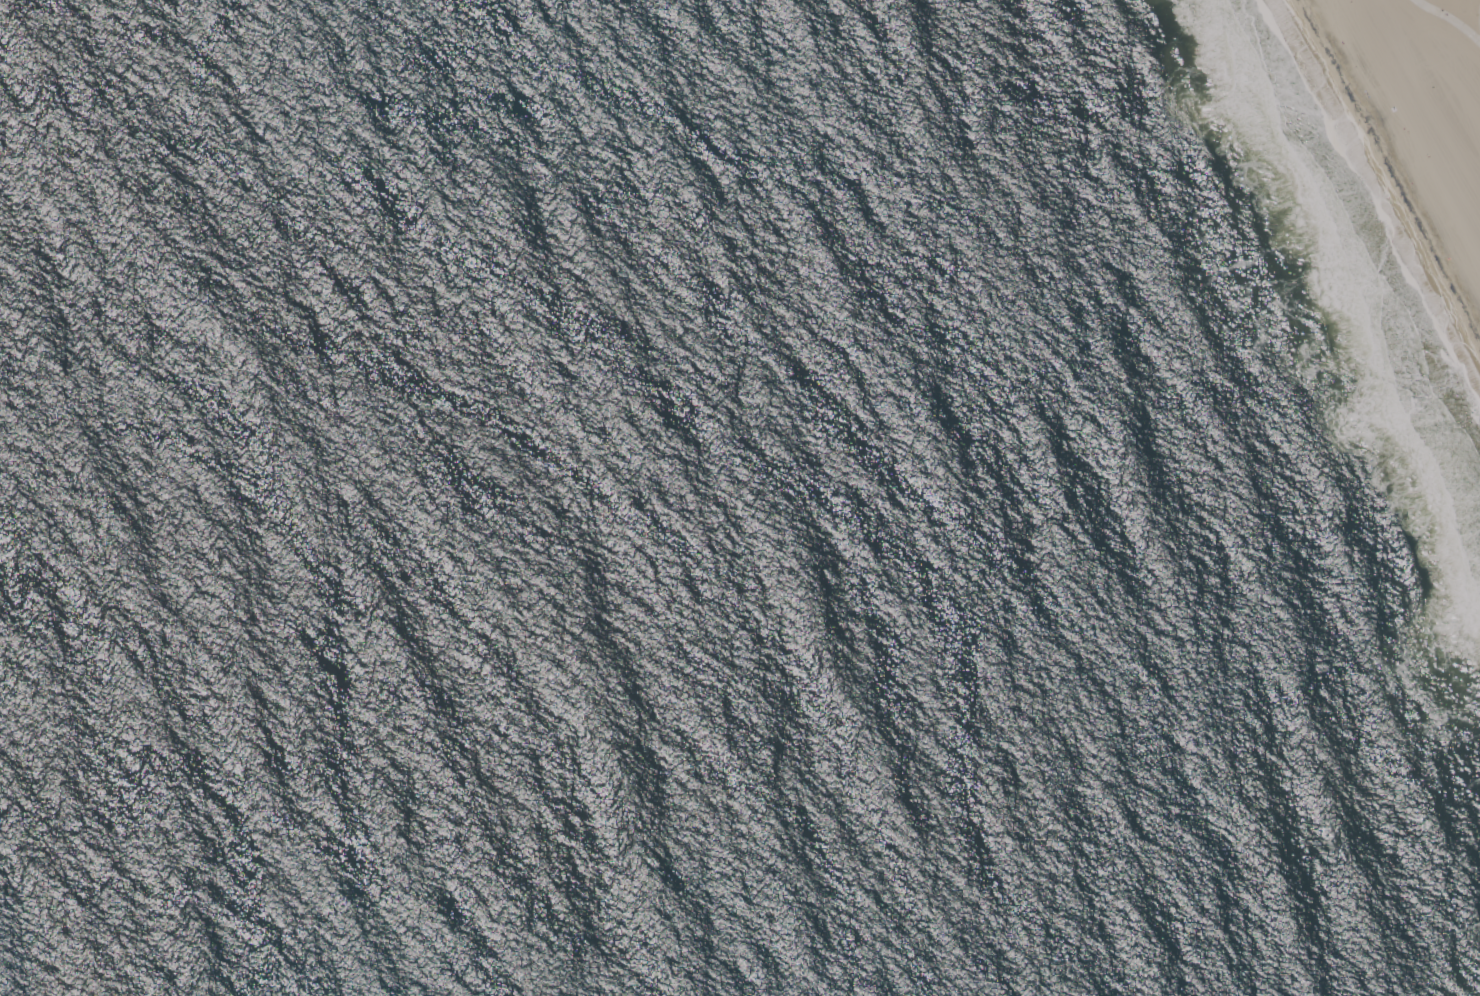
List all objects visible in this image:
road: (1450, 17)

